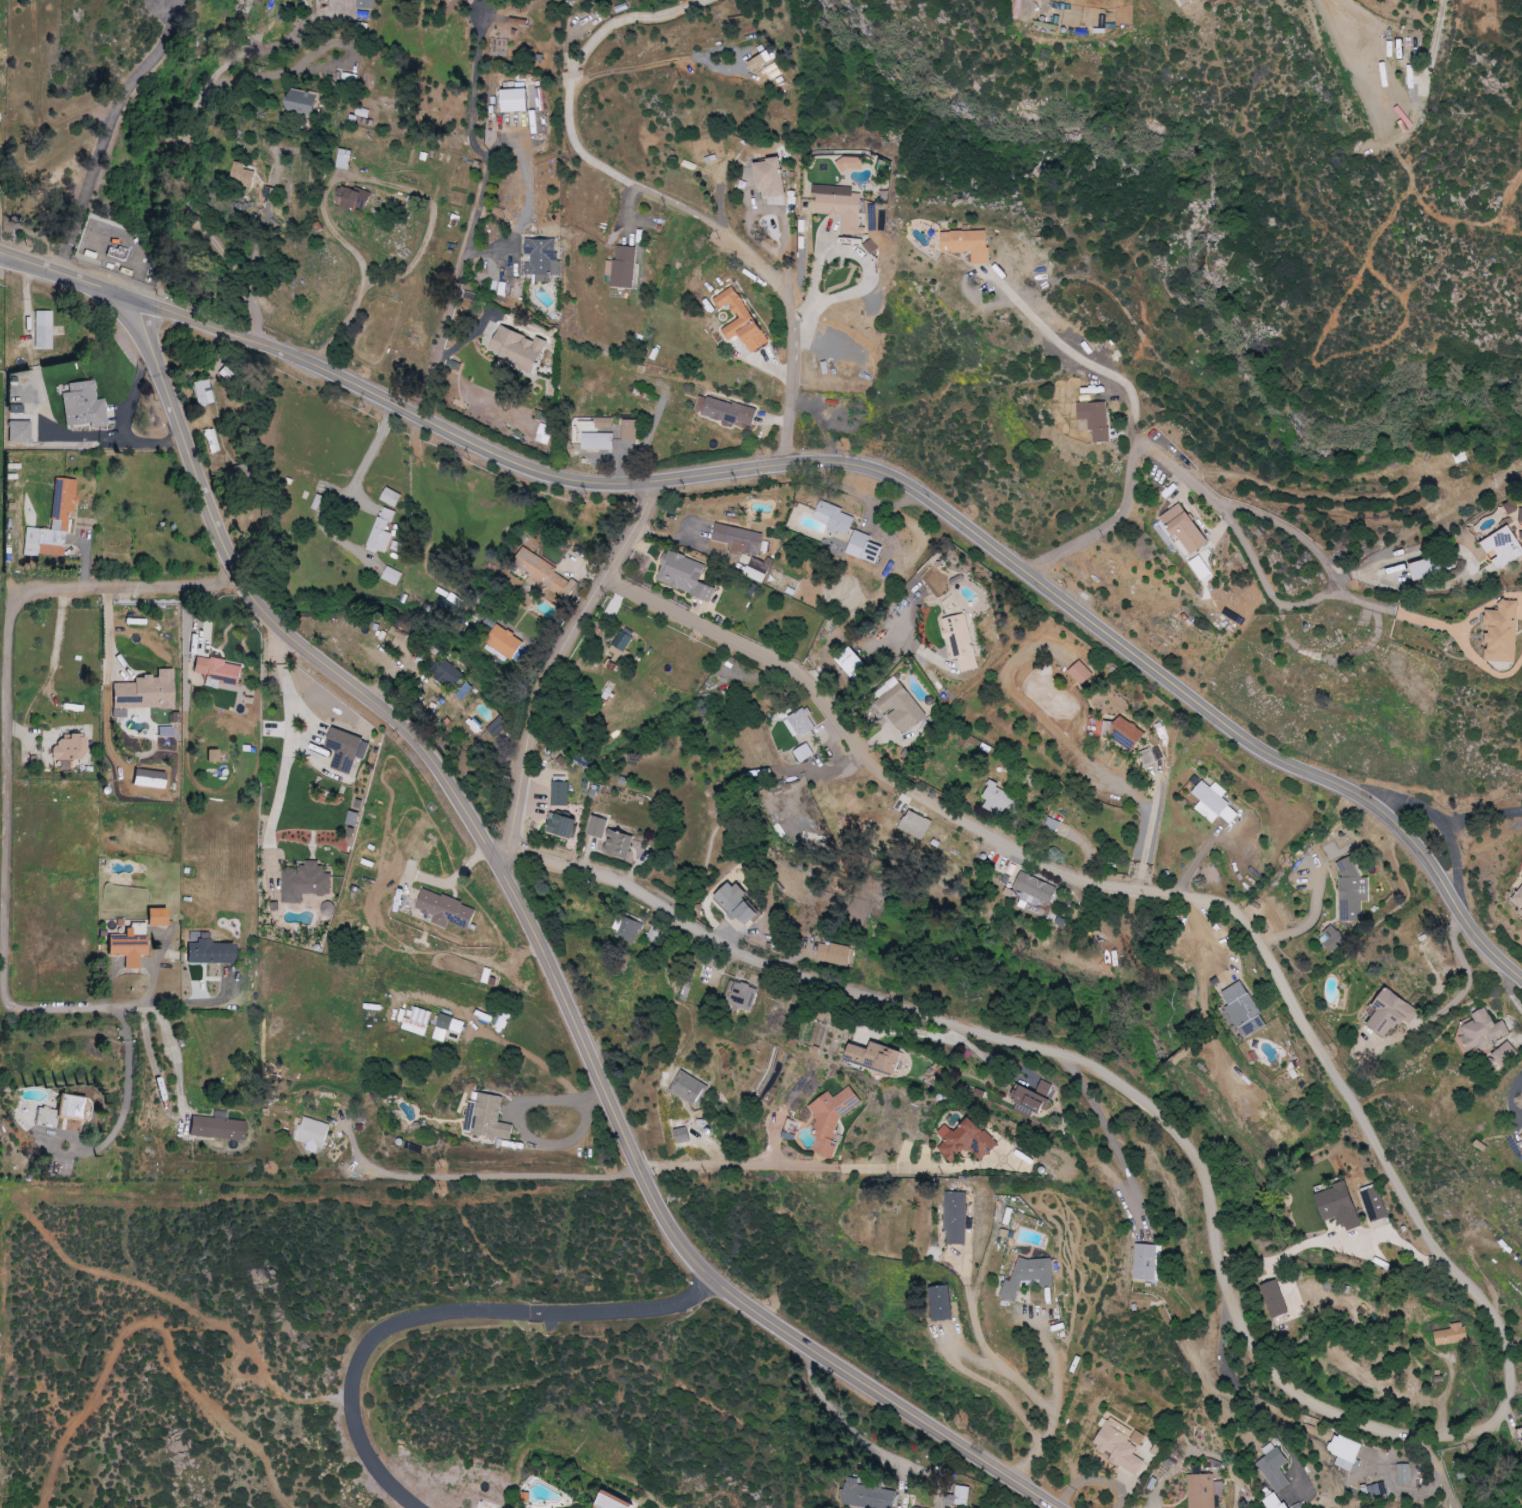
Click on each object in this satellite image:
building: (1191, 0)
building: (366, 4)
building: (1023, 13)
road: (624, 19)
building: (1414, 55)
building: (761, 60)
road: (319, 67)
building: (349, 77)
building: (516, 100)
building: (303, 102)
building: (360, 113)
road: (108, 130)
building: (0, 141)
building: (345, 159)
building: (851, 163)
road: (179, 165)
building: (243, 175)
road: (338, 178)
building: (772, 178)
building: (355, 197)
building: (841, 205)
road: (481, 217)
road: (716, 223)
building: (969, 244)
building: (543, 258)
building: (623, 267)
road: (870, 272)
building: (743, 320)
building: (41, 330)
building: (520, 348)
road: (1087, 360)
building: (202, 393)
building: (82, 405)
building: (14, 409)
building: (726, 410)
building: (1095, 420)
building: (605, 423)
building: (631, 430)
building: (17, 432)
building: (544, 433)
building: (210, 441)
building: (598, 441)
road: (376, 447)
road: (1179, 460)
road: (831, 466)
building: (392, 497)
building: (1512, 507)
building: (1521, 515)
building: (835, 518)
building: (51, 525)
road: (1116, 527)
building: (1187, 529)
building: (383, 532)
road: (1313, 533)
building: (740, 539)
building: (865, 547)
building: (1504, 547)
building: (1425, 569)
building: (542, 570)
building: (756, 574)
building: (685, 575)
building: (393, 576)
road: (1266, 576)
road: (251, 590)
road: (1398, 611)
building: (1504, 632)
building: (404, 642)
building: (505, 642)
building: (961, 642)
building: (620, 650)
road: (556, 663)
building: (855, 664)
building: (217, 671)
building: (447, 673)
building: (1081, 673)
building: (144, 692)
building: (902, 708)
building: (801, 723)
building: (498, 726)
building: (164, 732)
building: (1128, 734)
road: (5, 738)
building: (68, 748)
building: (348, 750)
road: (288, 752)
building: (804, 753)
building: (1152, 756)
road: (839, 766)
building: (561, 793)
building: (998, 800)
building: (1214, 802)
road: (1483, 813)
road: (1443, 820)
building: (563, 825)
building: (917, 825)
building: (598, 826)
building: (619, 843)
road: (1147, 846)
road: (1196, 859)
building: (306, 882)
building: (1351, 891)
road: (1147, 893)
building: (1518, 899)
building: (739, 904)
building: (447, 910)
road: (1312, 916)
building: (156, 917)
building: (629, 929)
building: (1333, 939)
building: (128, 945)
building: (209, 953)
building: (835, 954)
building: (743, 996)
road: (1456, 999)
building: (1245, 1009)
building: (1390, 1012)
building: (417, 1021)
building: (448, 1029)
building: (1483, 1030)
building: (1506, 1053)
road: (1057, 1055)
building: (879, 1056)
road: (126, 1059)
building: (1034, 1096)
building: (62, 1114)
road: (174, 1115)
building: (832, 1117)
building: (490, 1118)
road: (520, 1120)
building: (216, 1127)
building: (312, 1134)
building: (1521, 1137)
building: (968, 1140)
road: (1116, 1144)
road: (802, 1171)
road: (484, 1177)
building: (1373, 1203)
building: (1340, 1205)
building: (956, 1216)
building: (969, 1218)
road: (1341, 1235)
road: (695, 1256)
building: (1146, 1261)
building: (1030, 1275)
building: (1274, 1299)
building: (943, 1302)
road: (446, 1312)
building: (1453, 1334)
road: (1439, 1354)
road: (1016, 1375)
road: (976, 1377)
road: (1246, 1393)
road: (847, 1427)
building: (1120, 1445)
road: (1491, 1446)
building: (1345, 1451)
building: (1274, 1467)
building: (1405, 1474)
road: (1093, 1479)
road: (1454, 1481)
building: (1204, 1490)
building: (1374, 1491)
building: (869, 1495)
building: (959, 1496)
building: (1274, 1501)
building: (614, 1502)
road: (1455, 1504)
building: (918, 1507)

